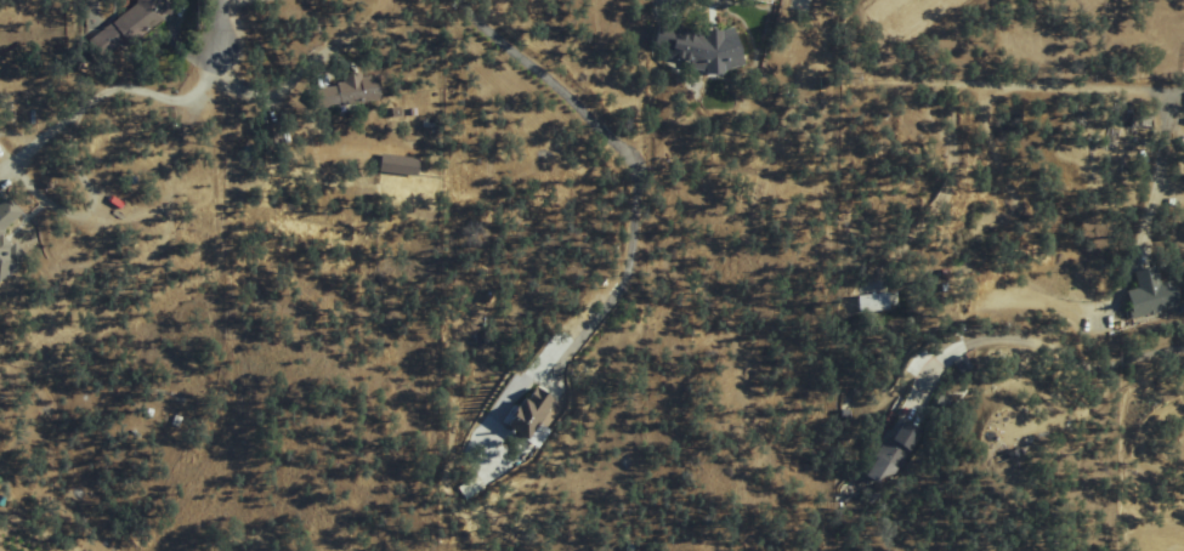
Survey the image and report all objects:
building: (117, 25)
building: (698, 47)
road: (214, 52)
building: (346, 91)
road: (95, 107)
building: (264, 134)
building: (5, 211)
building: (5, 256)
building: (1143, 294)
building: (871, 302)
road: (1077, 337)
building: (525, 410)
building: (888, 455)
building: (470, 488)

